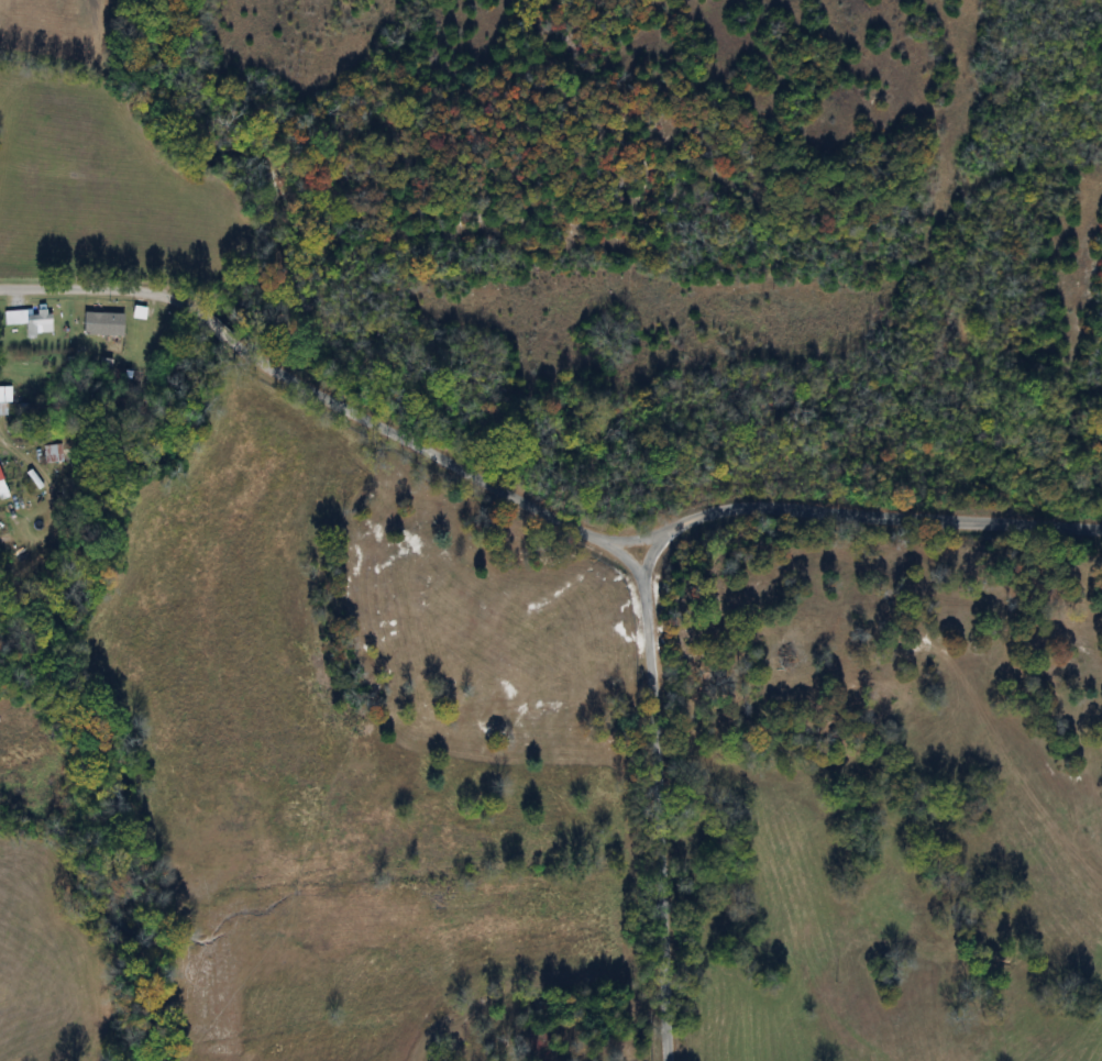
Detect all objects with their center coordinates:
building: (31, 320)
building: (101, 324)
building: (3, 395)
road: (320, 396)
road: (11, 446)
building: (1, 491)
road: (867, 516)
road: (658, 800)

